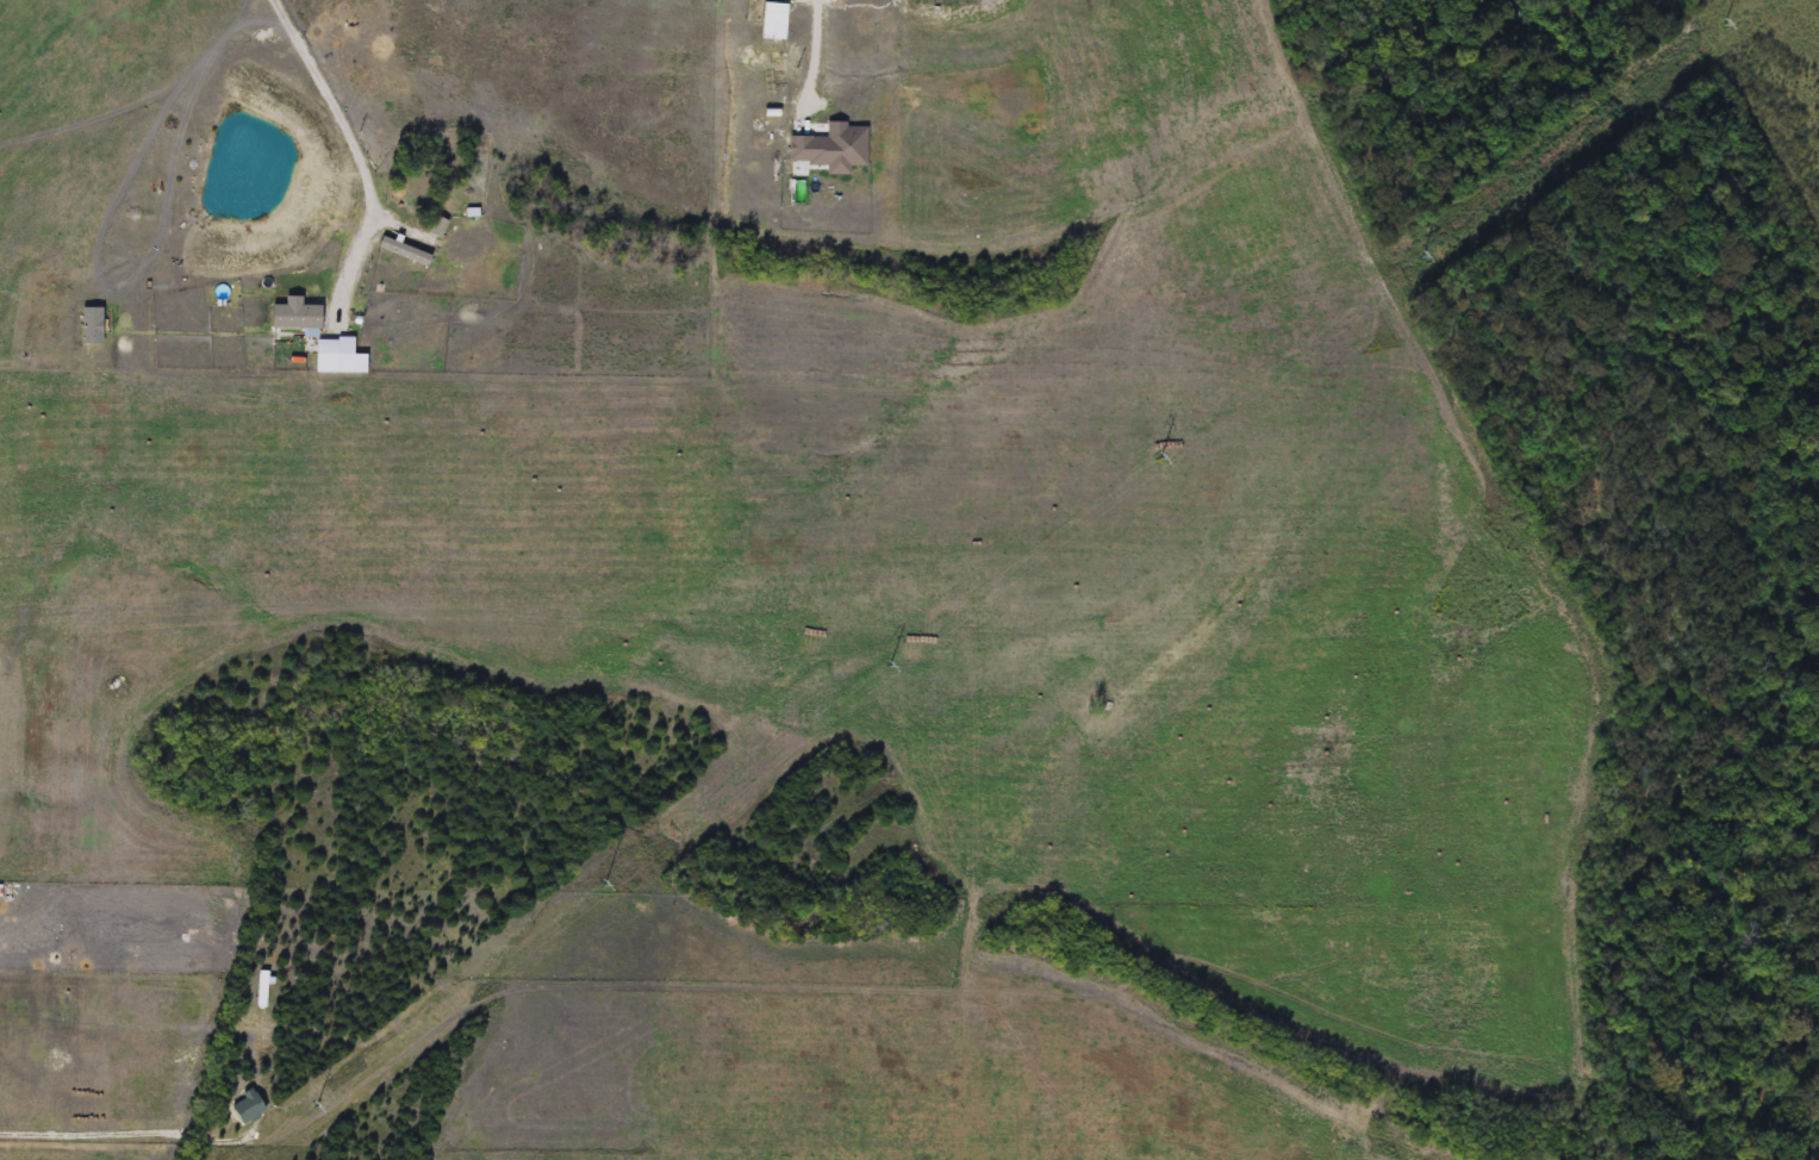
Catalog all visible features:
power tower: (1745, 29)
road: (817, 49)
road: (354, 145)
power tower: (1438, 262)
power tower: (1175, 463)
power tower: (904, 673)
power tower: (623, 887)
power tower: (329, 1109)
road: (123, 1136)

